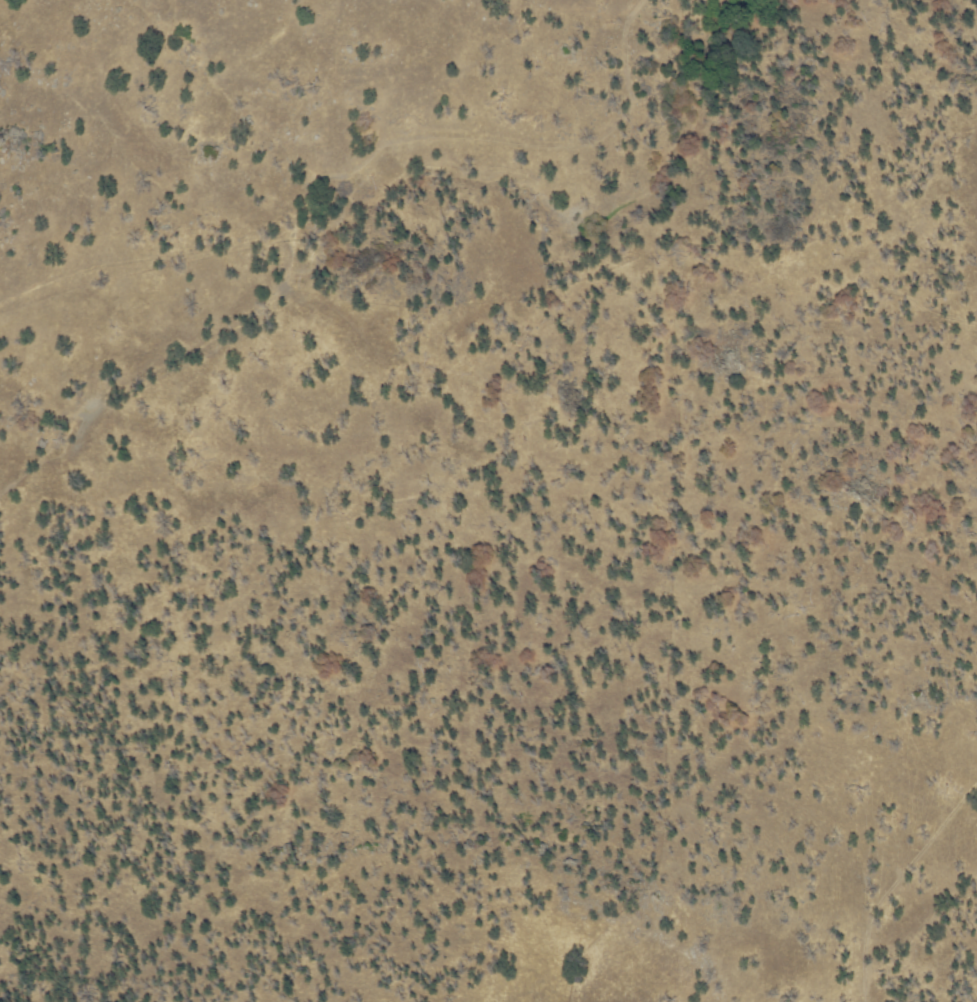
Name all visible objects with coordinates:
road: (656, 50)

